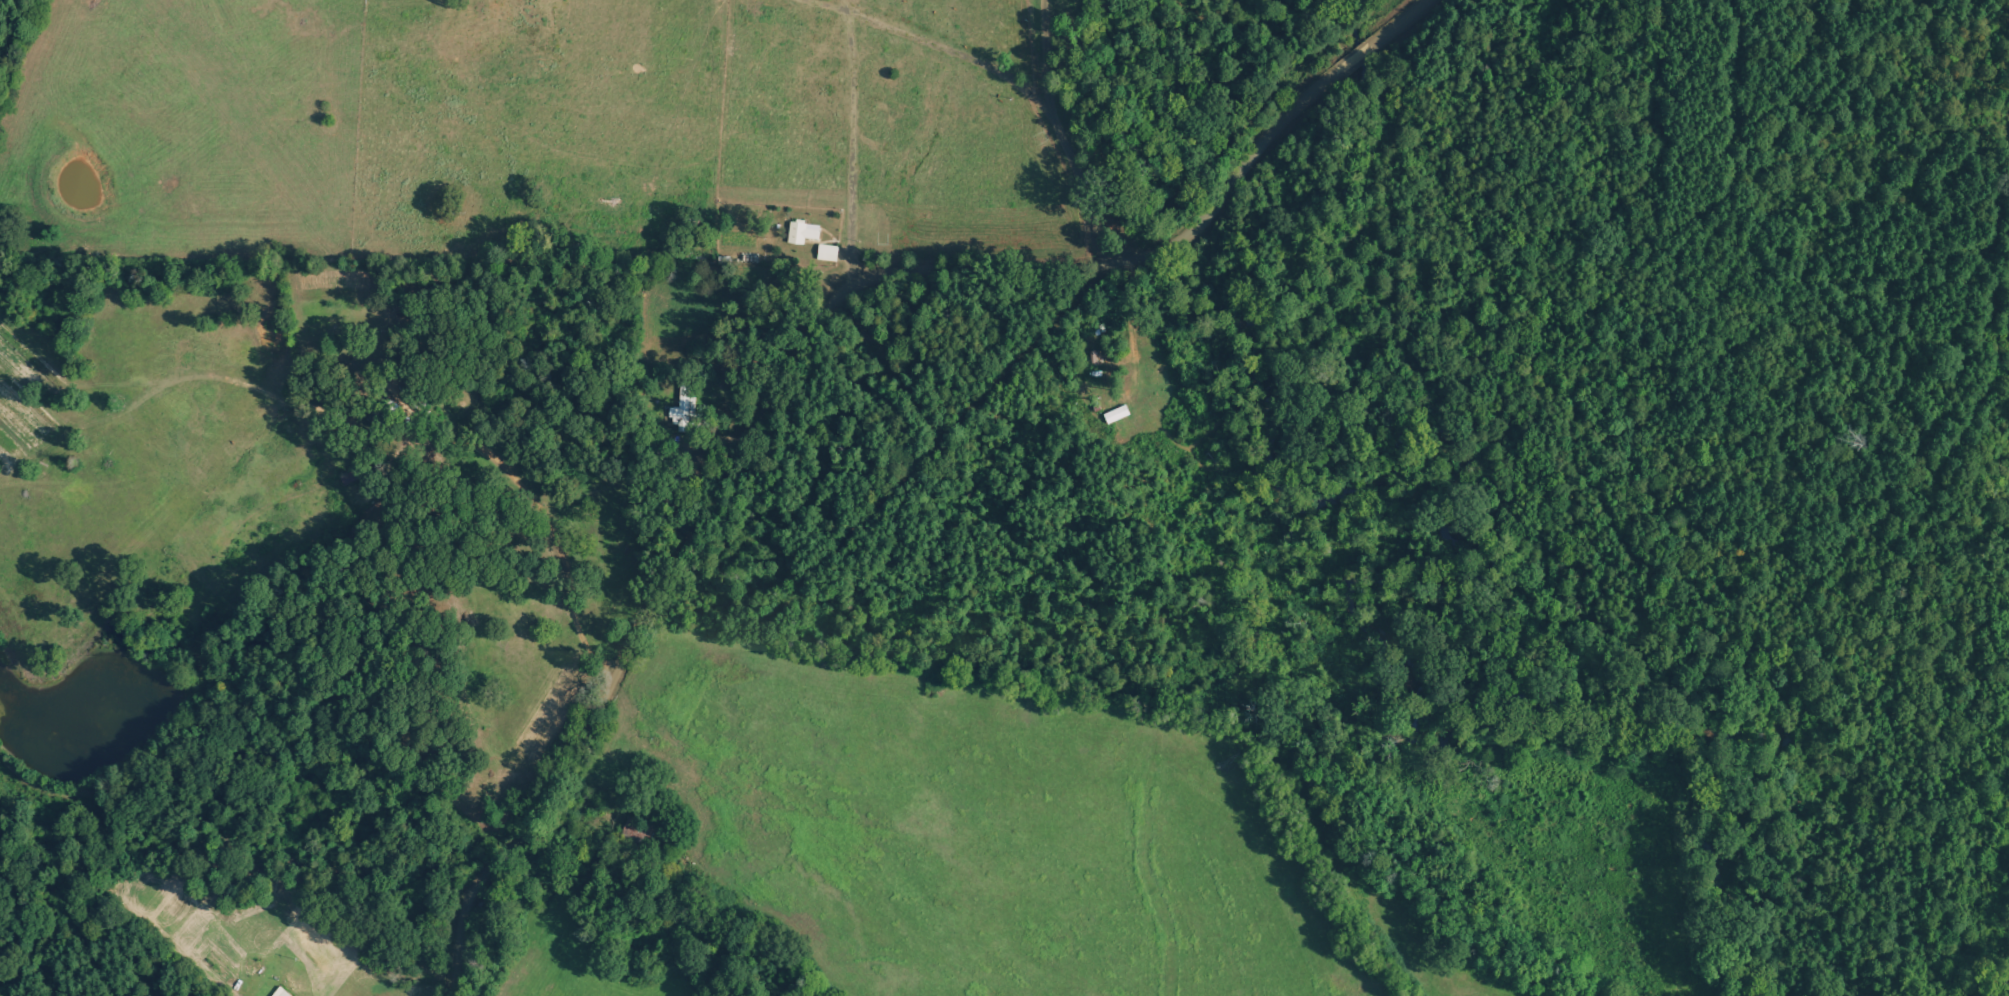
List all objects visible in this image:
building: (828, 253)
road: (781, 352)
road: (678, 880)
building: (281, 992)

